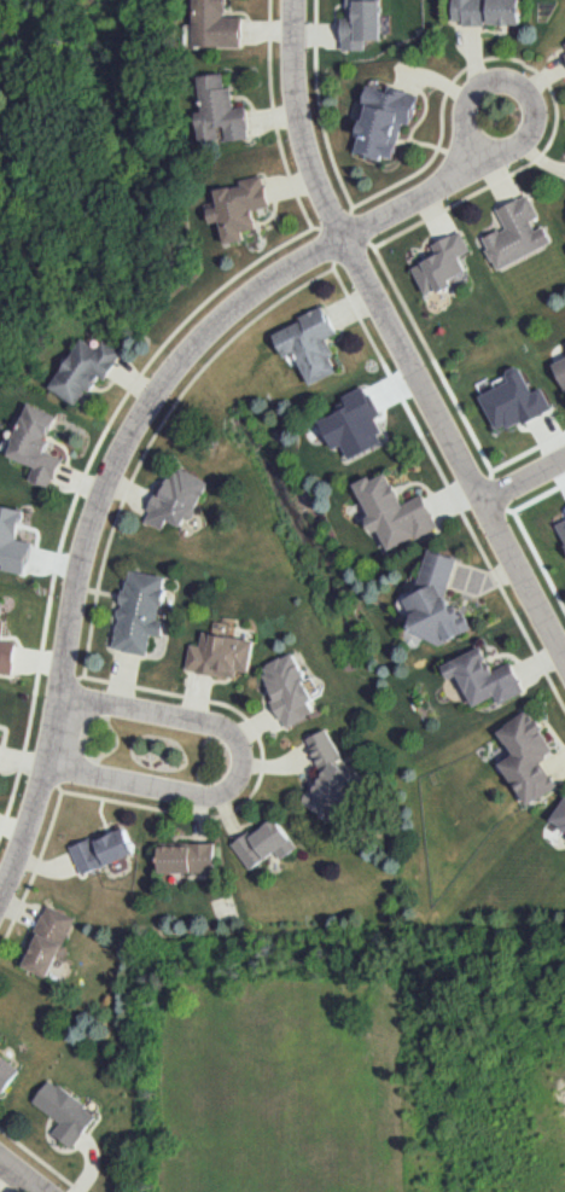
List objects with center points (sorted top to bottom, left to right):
building: (488, 11)
building: (359, 23)
building: (220, 24)
building: (564, 45)
road: (543, 71)
building: (220, 109)
park: (497, 115)
building: (380, 123)
road: (303, 124)
road: (514, 151)
building: (239, 208)
building: (518, 233)
road: (372, 243)
building: (442, 262)
building: (309, 344)
building: (560, 367)
building: (86, 370)
road: (134, 382)
building: (513, 401)
building: (36, 443)
road: (528, 449)
road: (123, 454)
road: (454, 454)
road: (523, 488)
road: (124, 495)
building: (177, 499)
building: (396, 510)
building: (554, 535)
building: (13, 540)
road: (560, 601)
building: (437, 604)
building: (141, 612)
building: (5, 650)
building: (226, 650)
building: (483, 678)
building: (291, 688)
building: (1, 745)
park: (152, 748)
building: (528, 757)
road: (232, 767)
building: (332, 780)
building: (559, 818)
building: (266, 844)
building: (101, 850)
building: (186, 857)
building: (51, 942)
building: (7, 1072)
building: (64, 1112)
road: (40, 1159)
road: (18, 1175)

